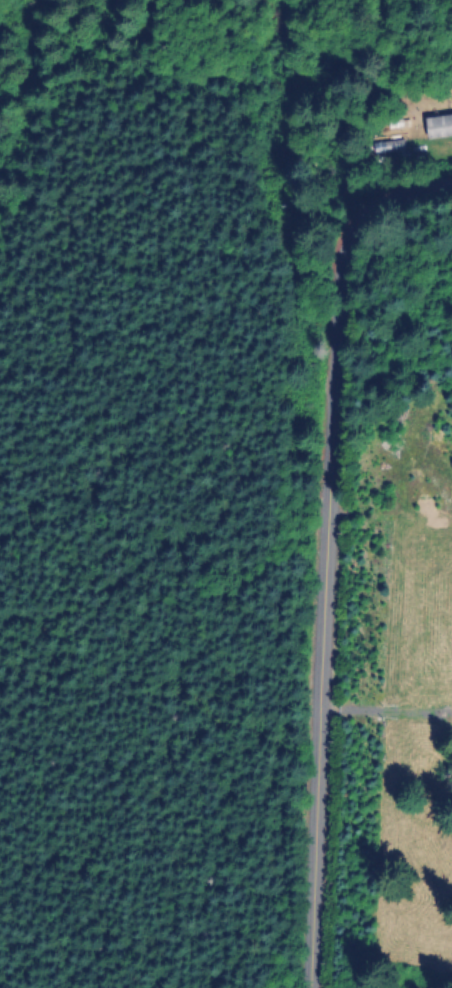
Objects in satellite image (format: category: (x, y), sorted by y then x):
building: (395, 147)
road: (325, 548)

